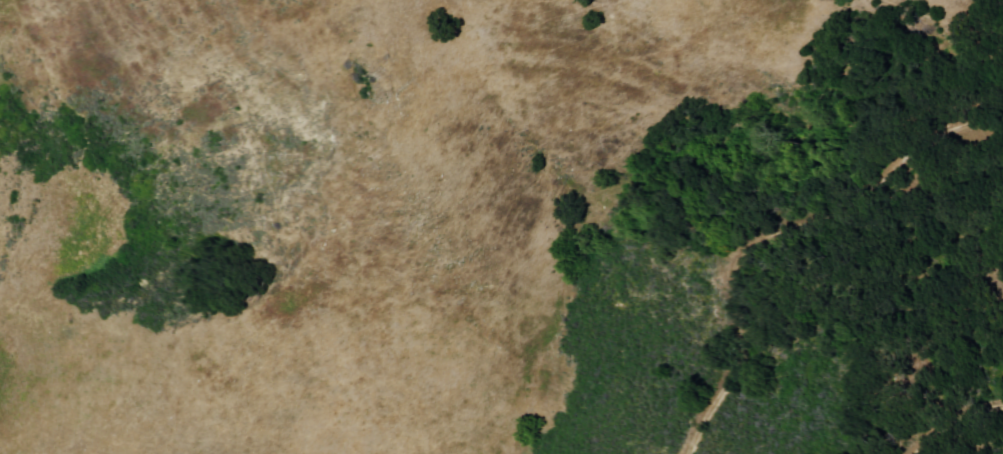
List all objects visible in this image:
road: (778, 235)
road: (950, 419)

